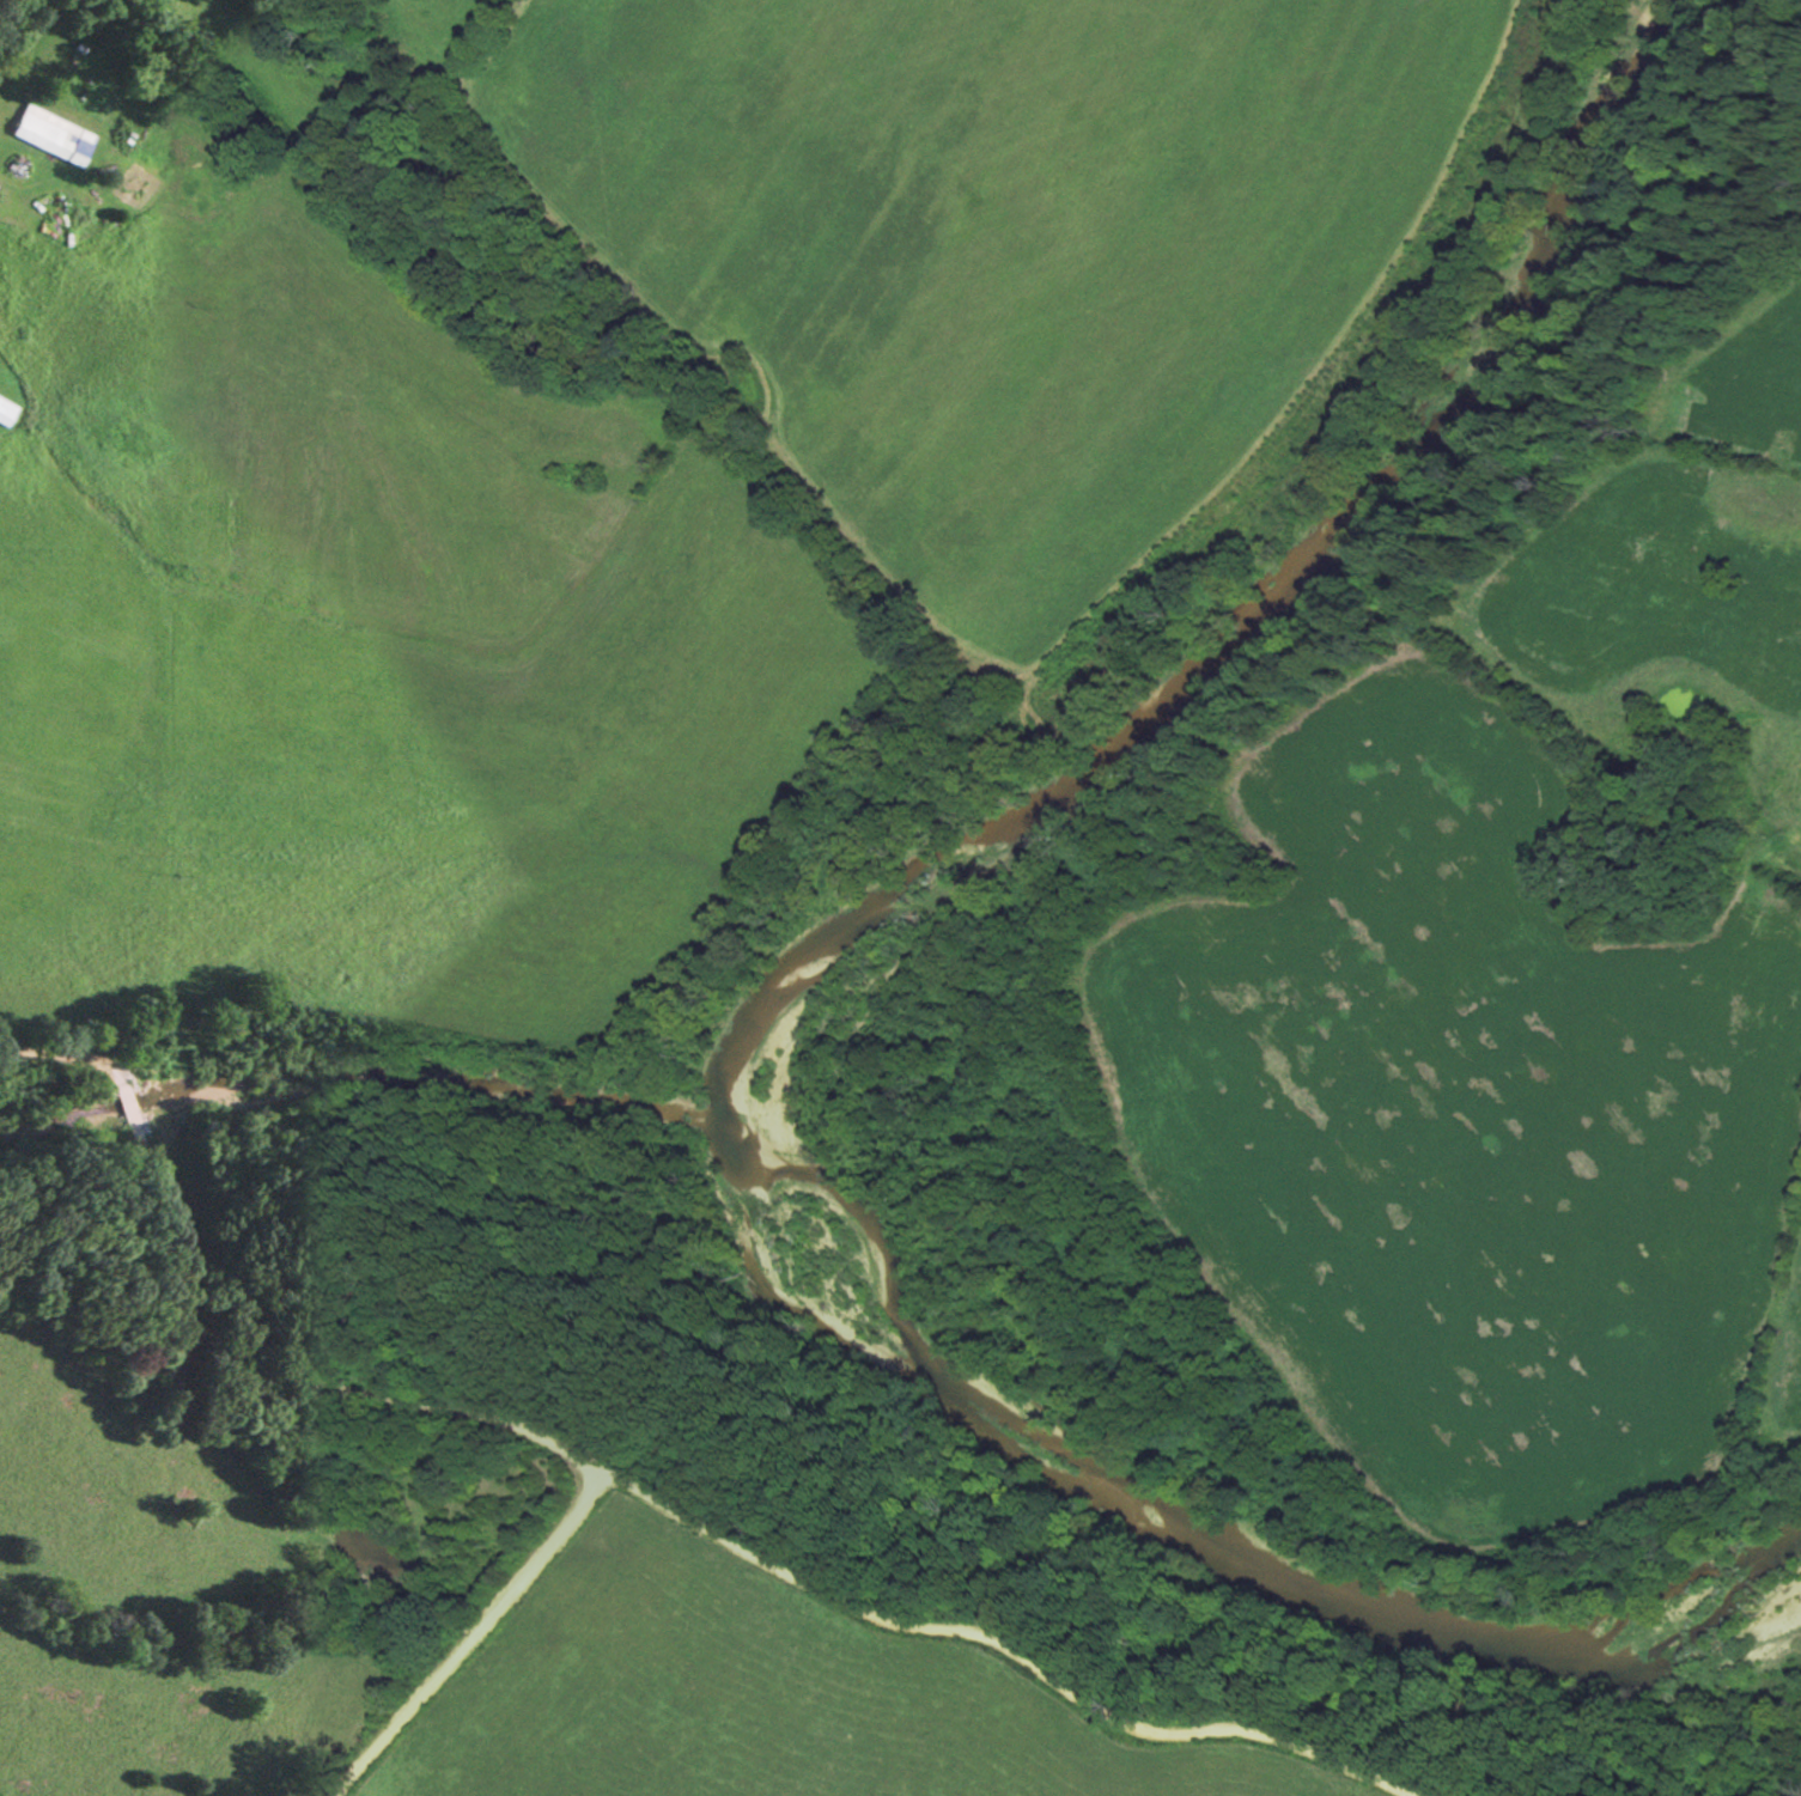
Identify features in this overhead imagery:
road: (11, 16)
building: (37, 132)
building: (7, 409)
road: (239, 1328)
road: (474, 1632)
road: (1010, 1643)

